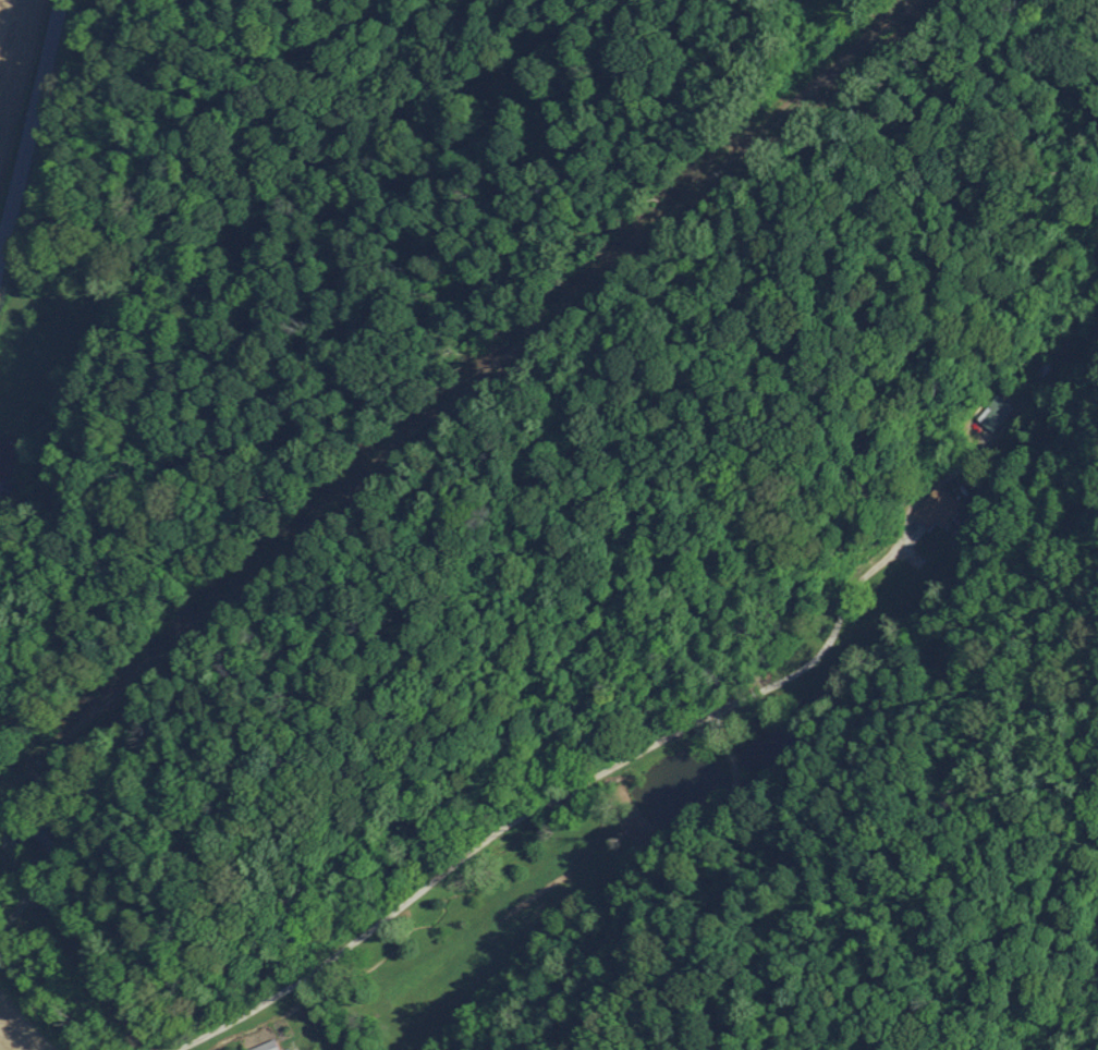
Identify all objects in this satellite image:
road: (32, 130)
building: (995, 412)
building: (10, 457)
building: (936, 506)
road: (552, 797)
road: (48, 997)
building: (265, 1046)

